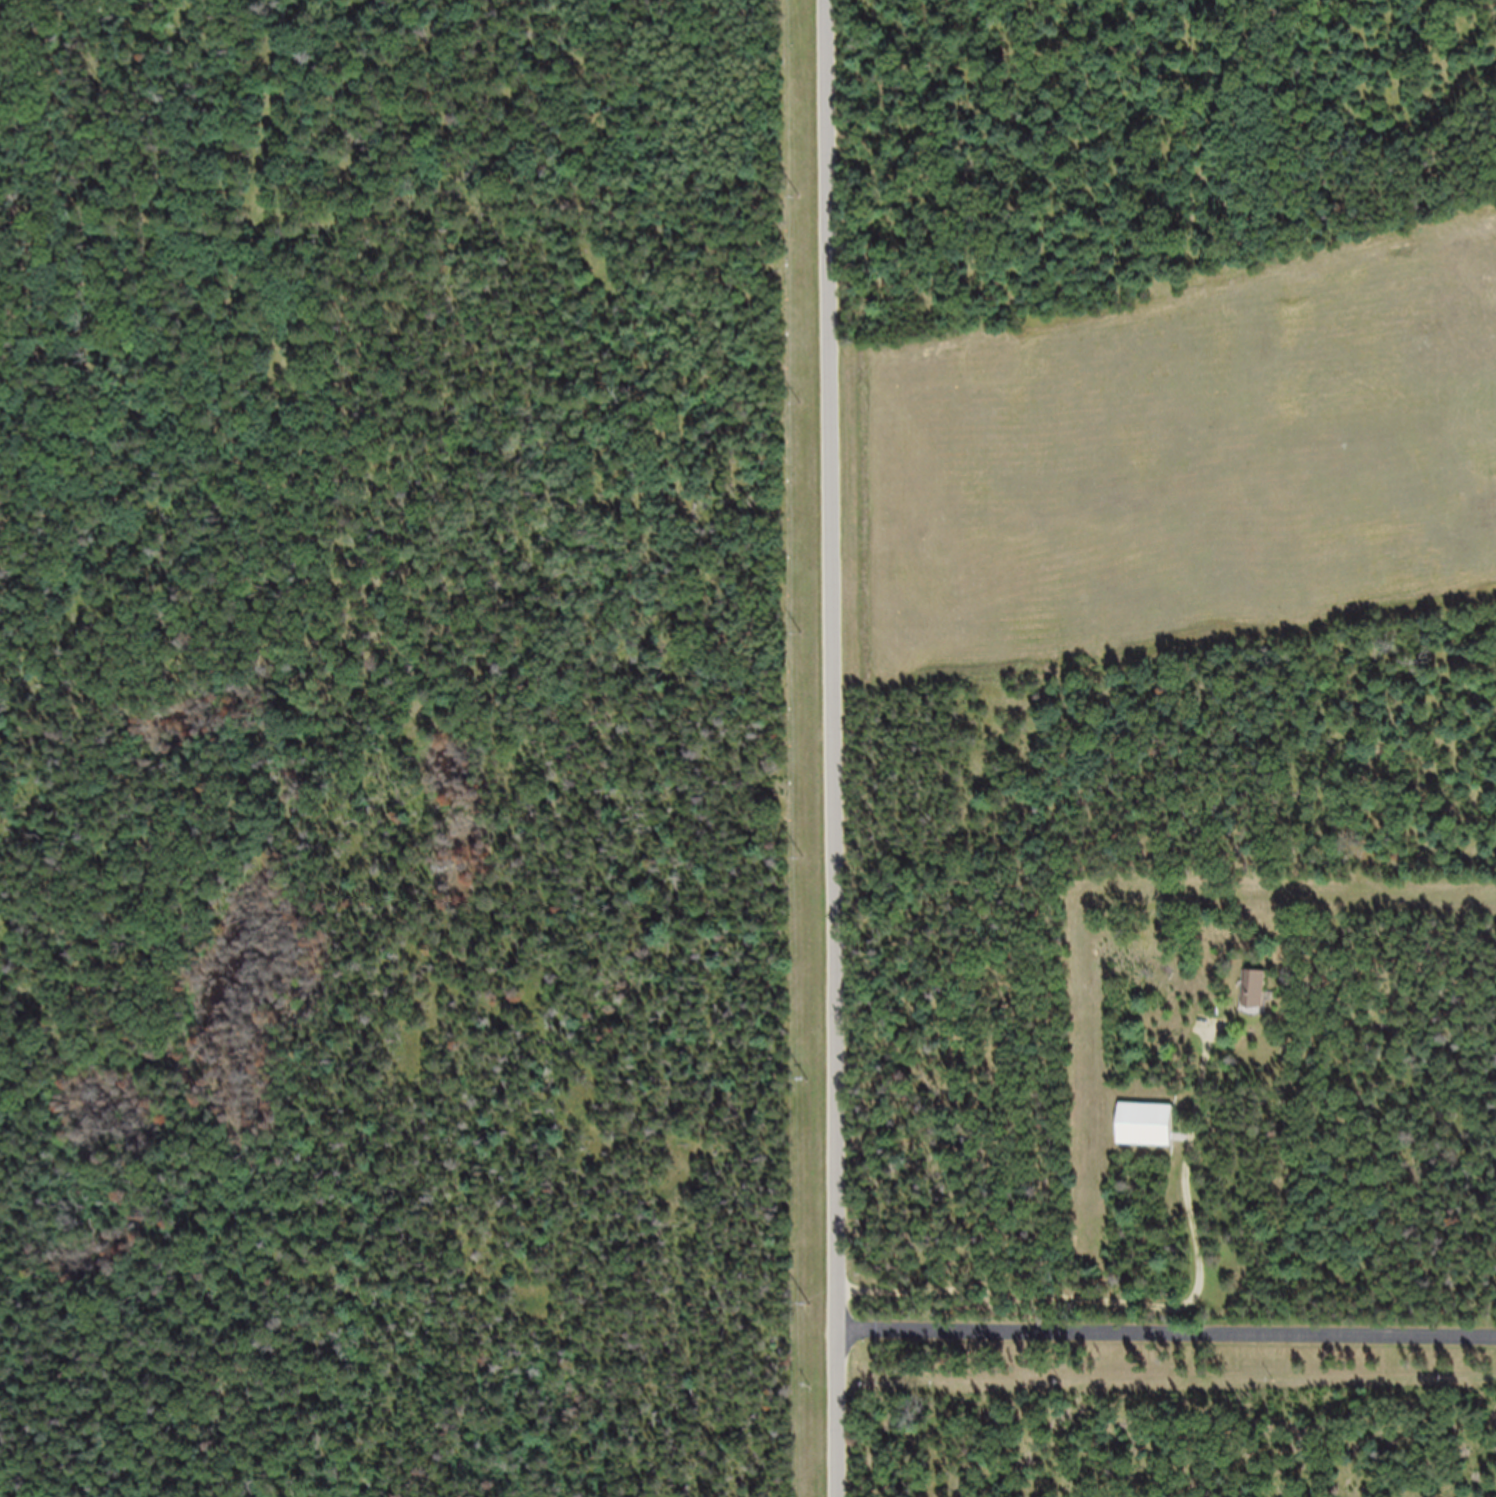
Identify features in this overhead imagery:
airport: (1168, 447)
airport runway: (1268, 461)
road: (832, 748)
building: (1253, 999)
building: (1144, 1135)
road: (1475, 1267)
road: (1166, 1344)

